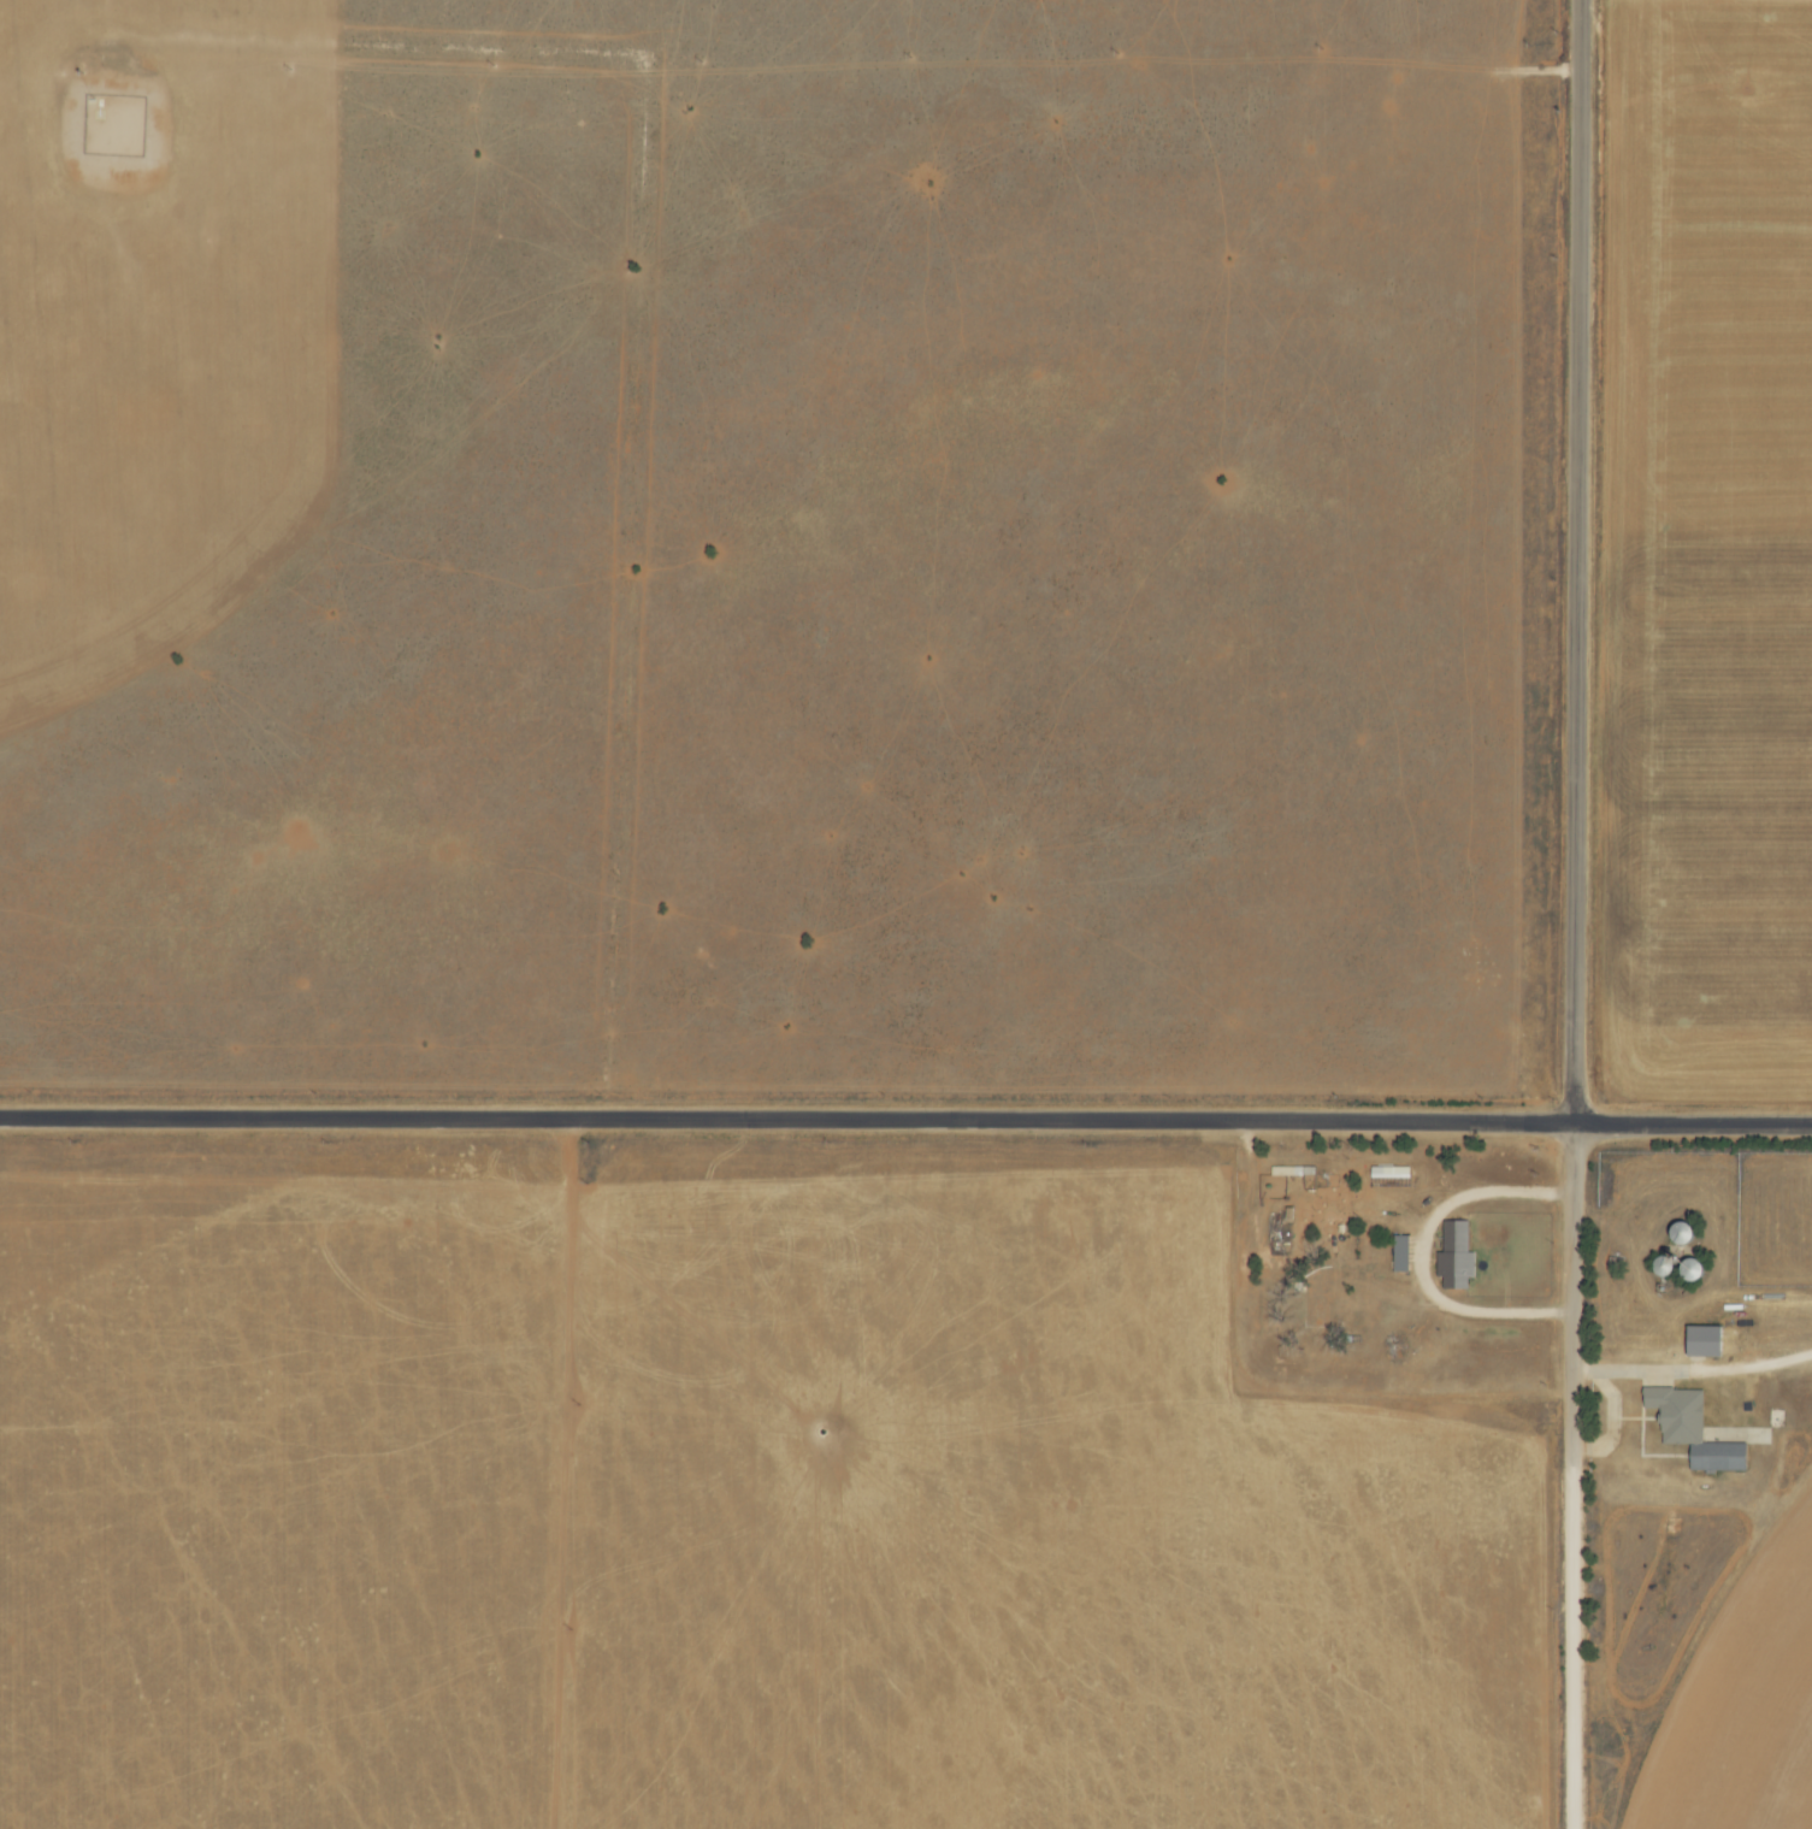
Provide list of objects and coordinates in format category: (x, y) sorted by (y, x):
road: (1581, 561)
road: (905, 1117)
building: (1391, 1173)
road: (1423, 1256)
building: (1456, 1257)
building: (1706, 1343)
road: (1618, 1416)
building: (1694, 1430)
road: (1576, 1475)

